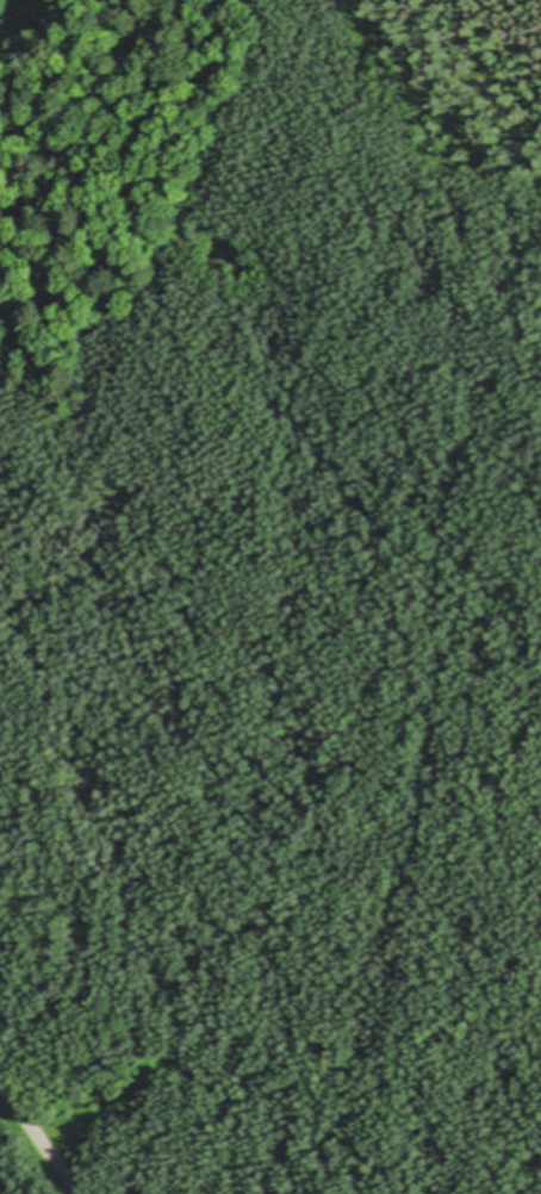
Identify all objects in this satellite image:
road: (39, 1138)

